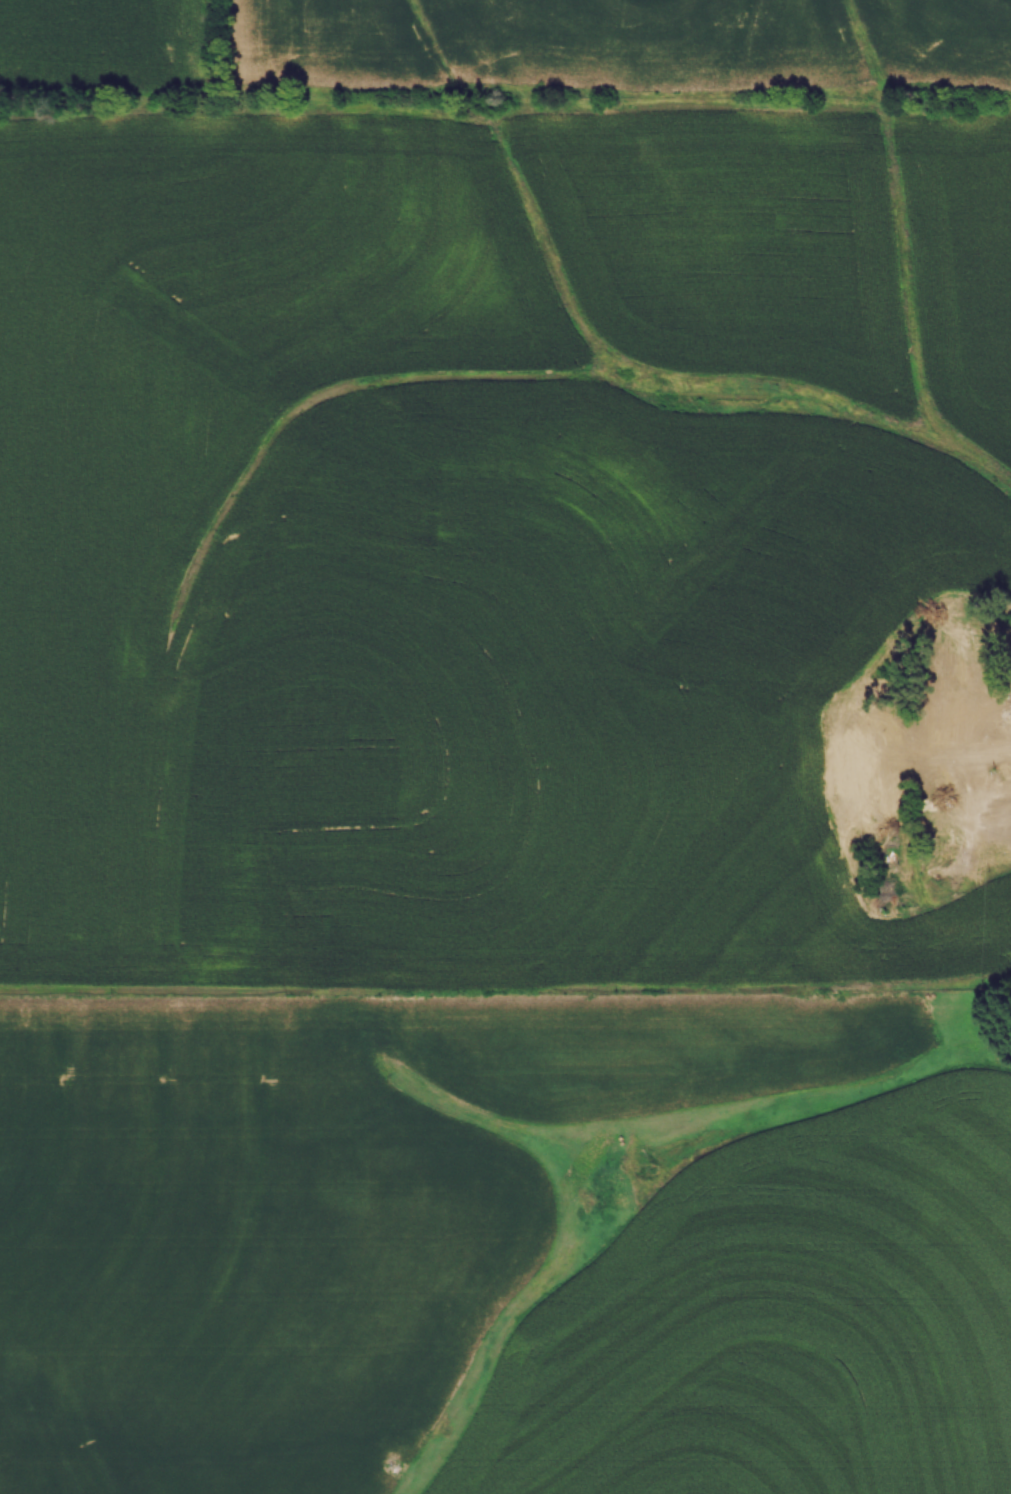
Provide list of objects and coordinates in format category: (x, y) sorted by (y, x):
crop: (628, 47)
building: (1007, 711)
building: (950, 721)
building: (948, 787)
crop: (472, 797)

